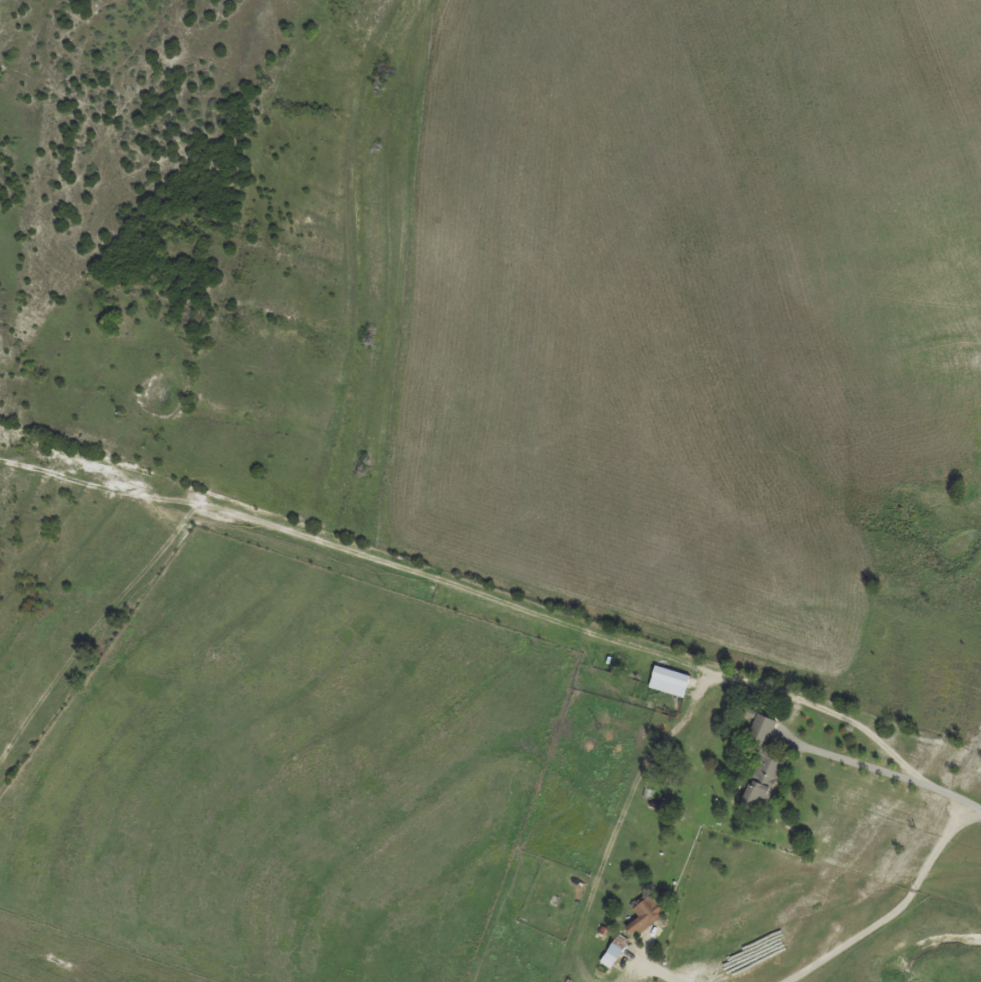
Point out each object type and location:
road: (469, 595)
building: (666, 680)
building: (760, 727)
road: (879, 775)
building: (762, 777)
road: (970, 810)
road: (890, 912)
building: (643, 914)
road: (660, 975)

